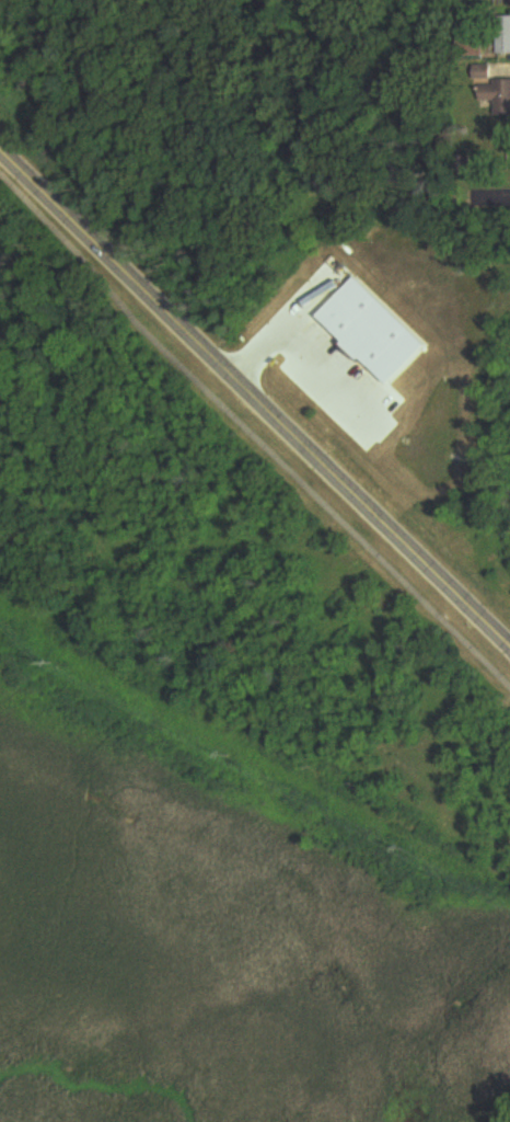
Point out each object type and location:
building: (498, 0)
building: (503, 42)
building: (500, 98)
road: (509, 198)
road: (302, 343)
road: (254, 399)
road: (251, 434)

